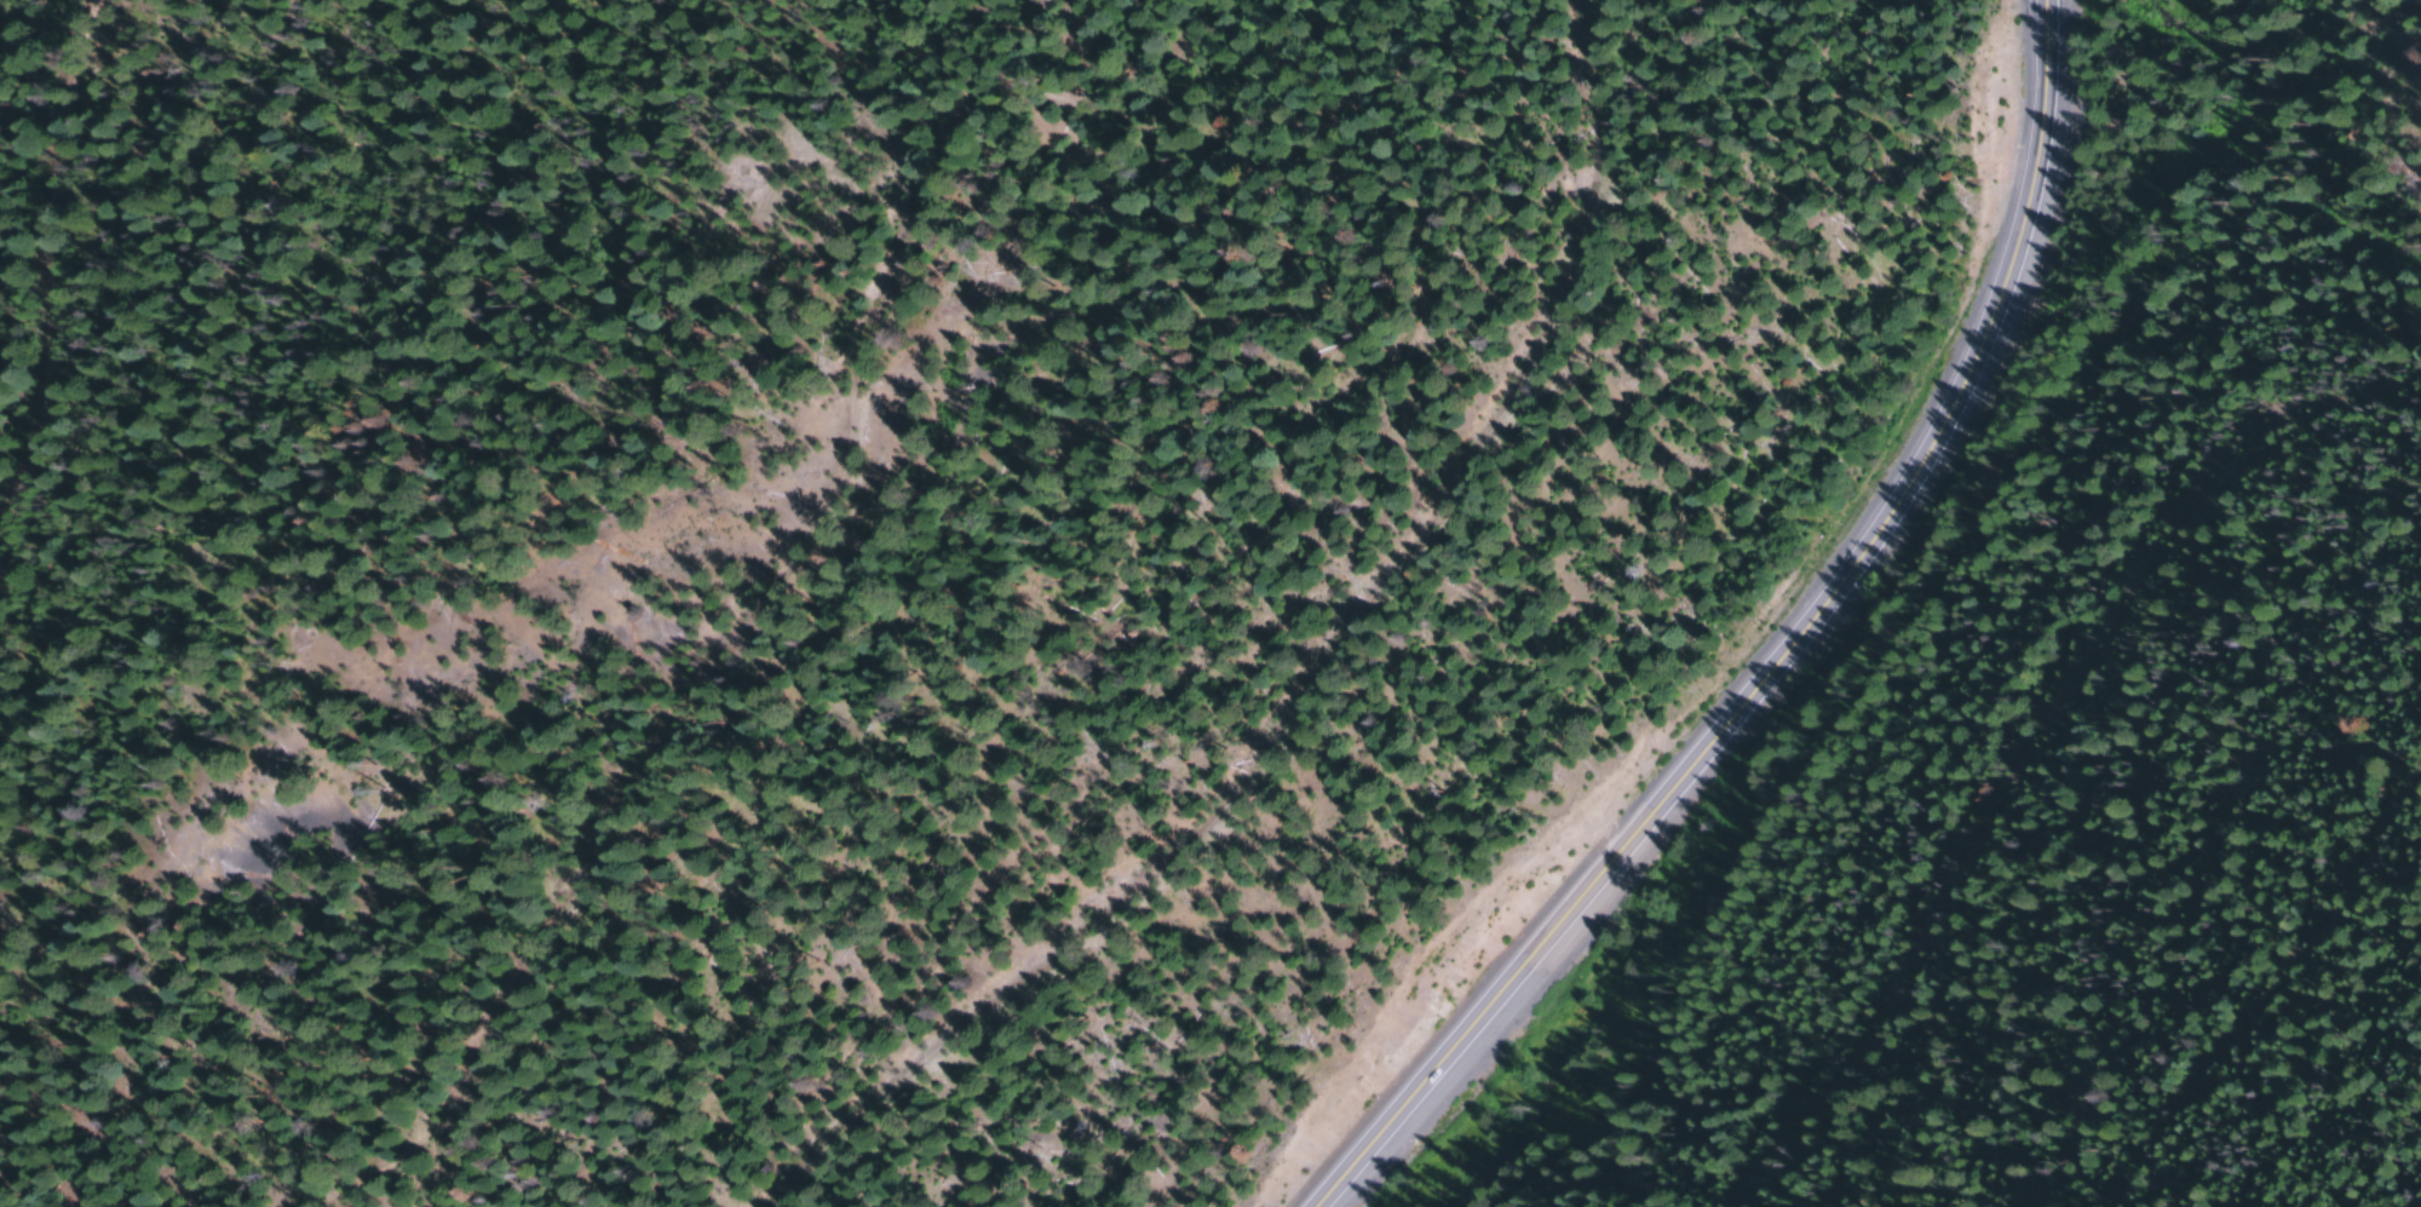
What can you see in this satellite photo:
road: (116, 220)
road: (2111, 587)
road: (1794, 657)
road: (1224, 689)
road: (2321, 932)

